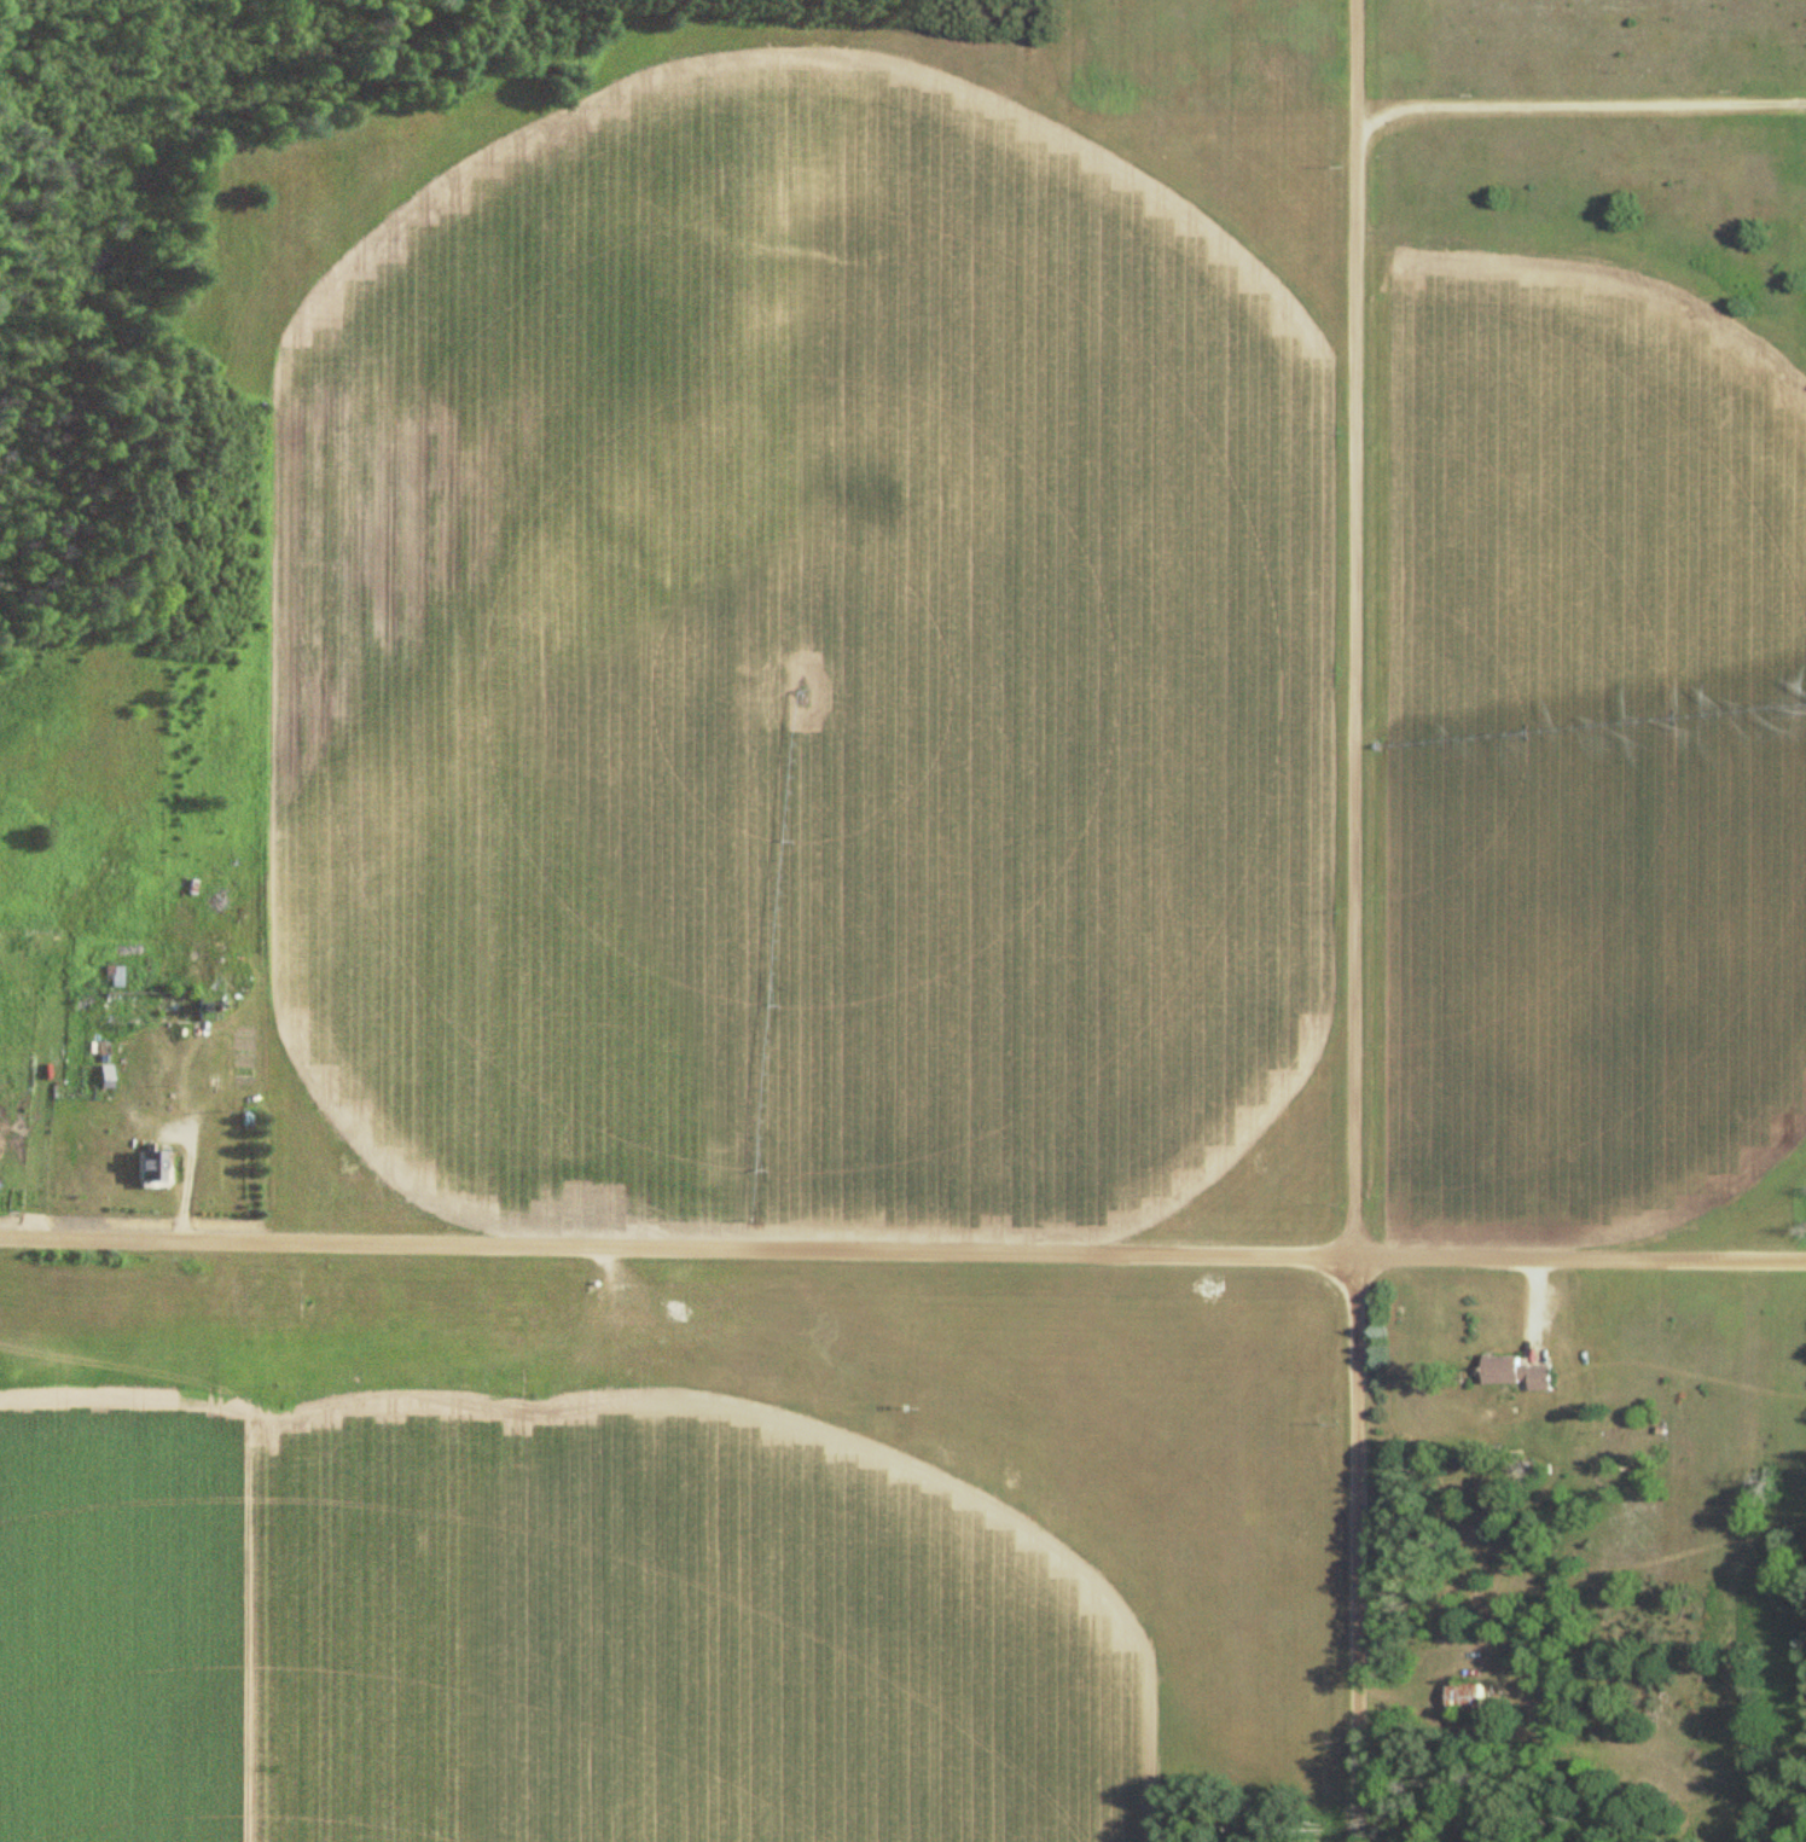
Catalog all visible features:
road: (1580, 111)
road: (1353, 627)
building: (144, 1161)
road: (675, 1243)
road: (1579, 1256)
building: (1510, 1371)
road: (1351, 1548)
building: (1459, 1697)

